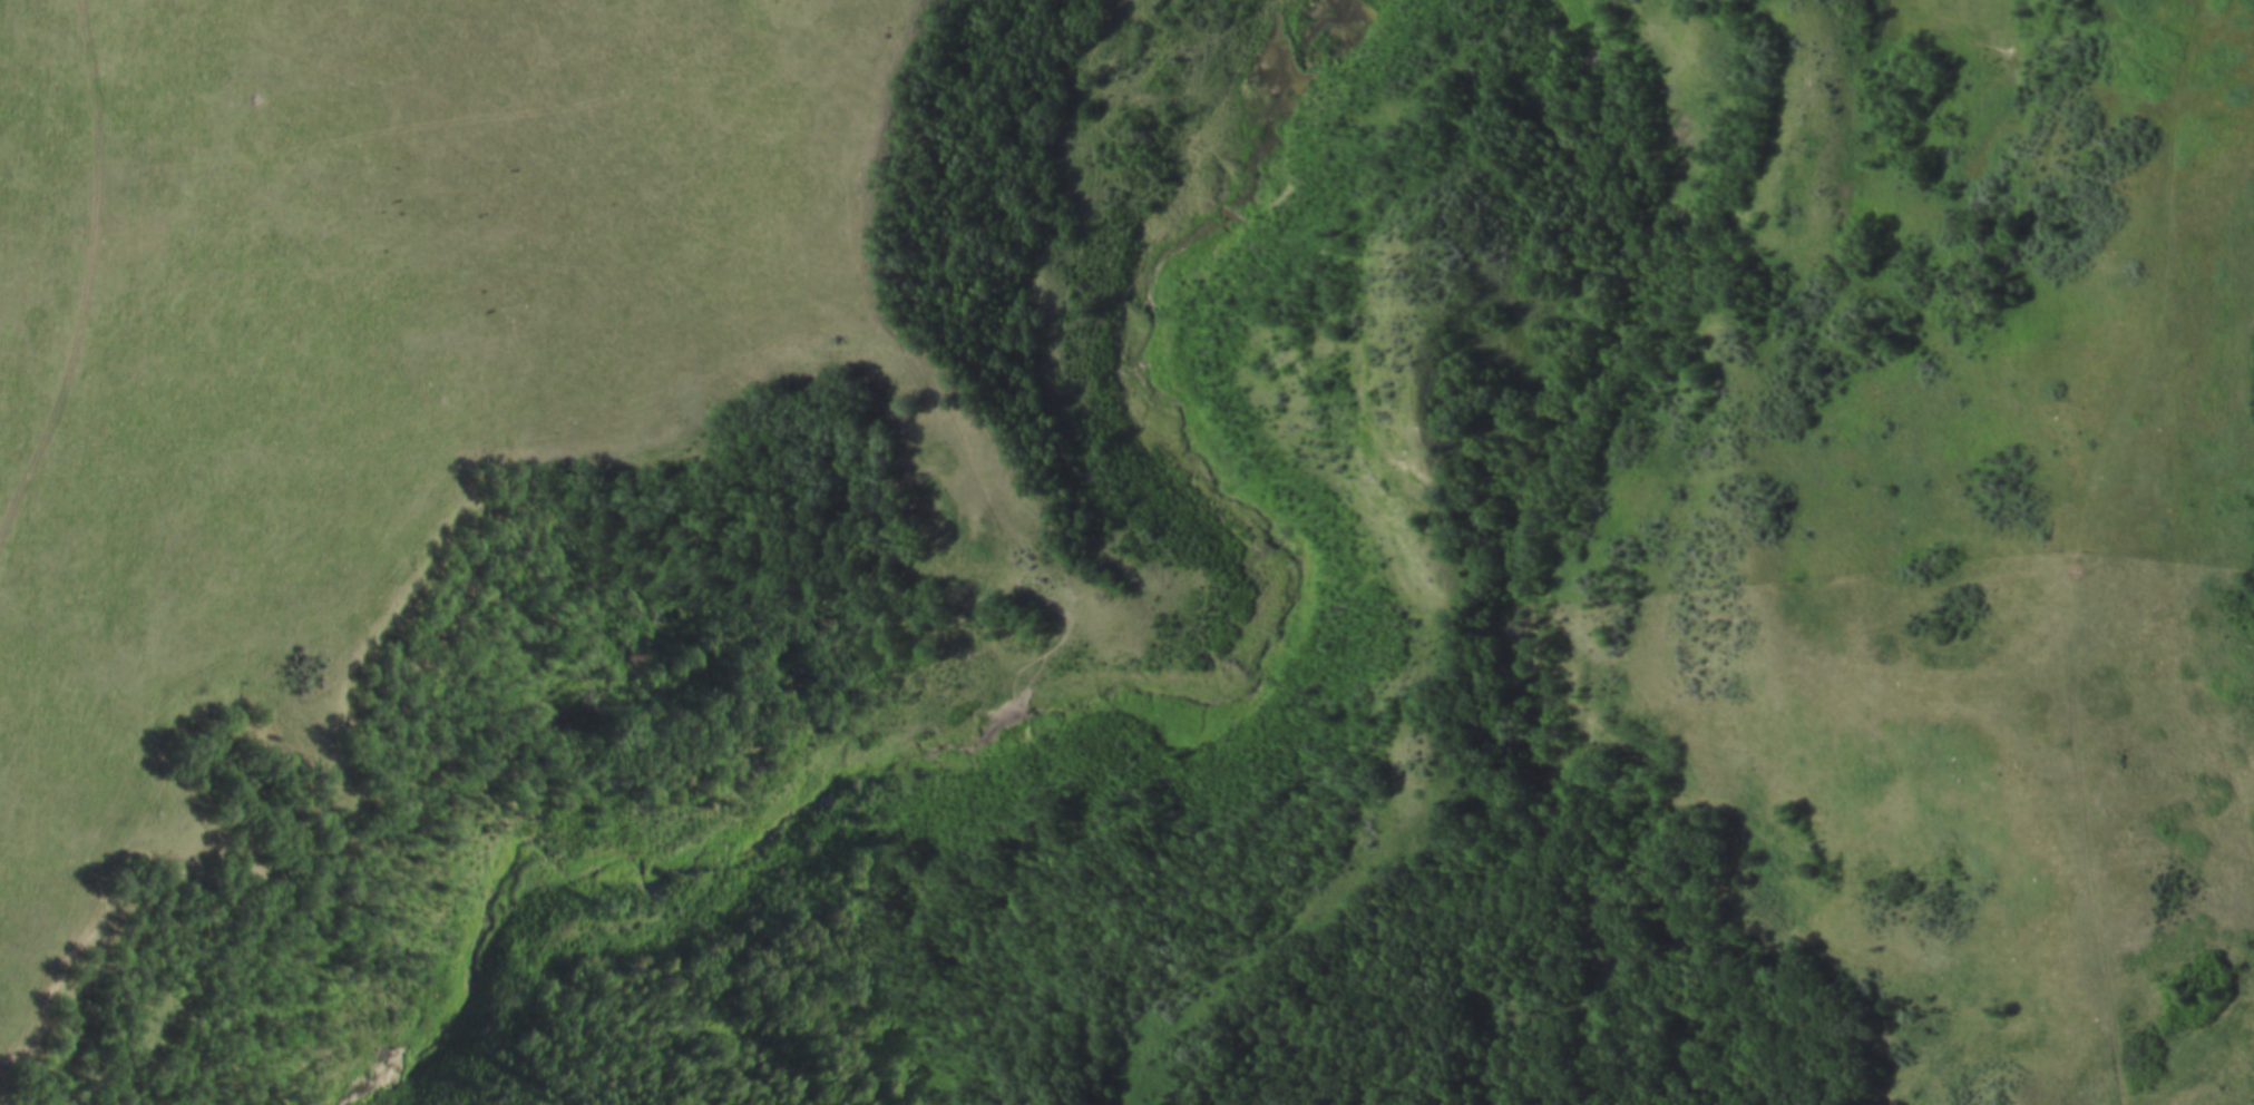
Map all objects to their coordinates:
road: (2051, 657)

